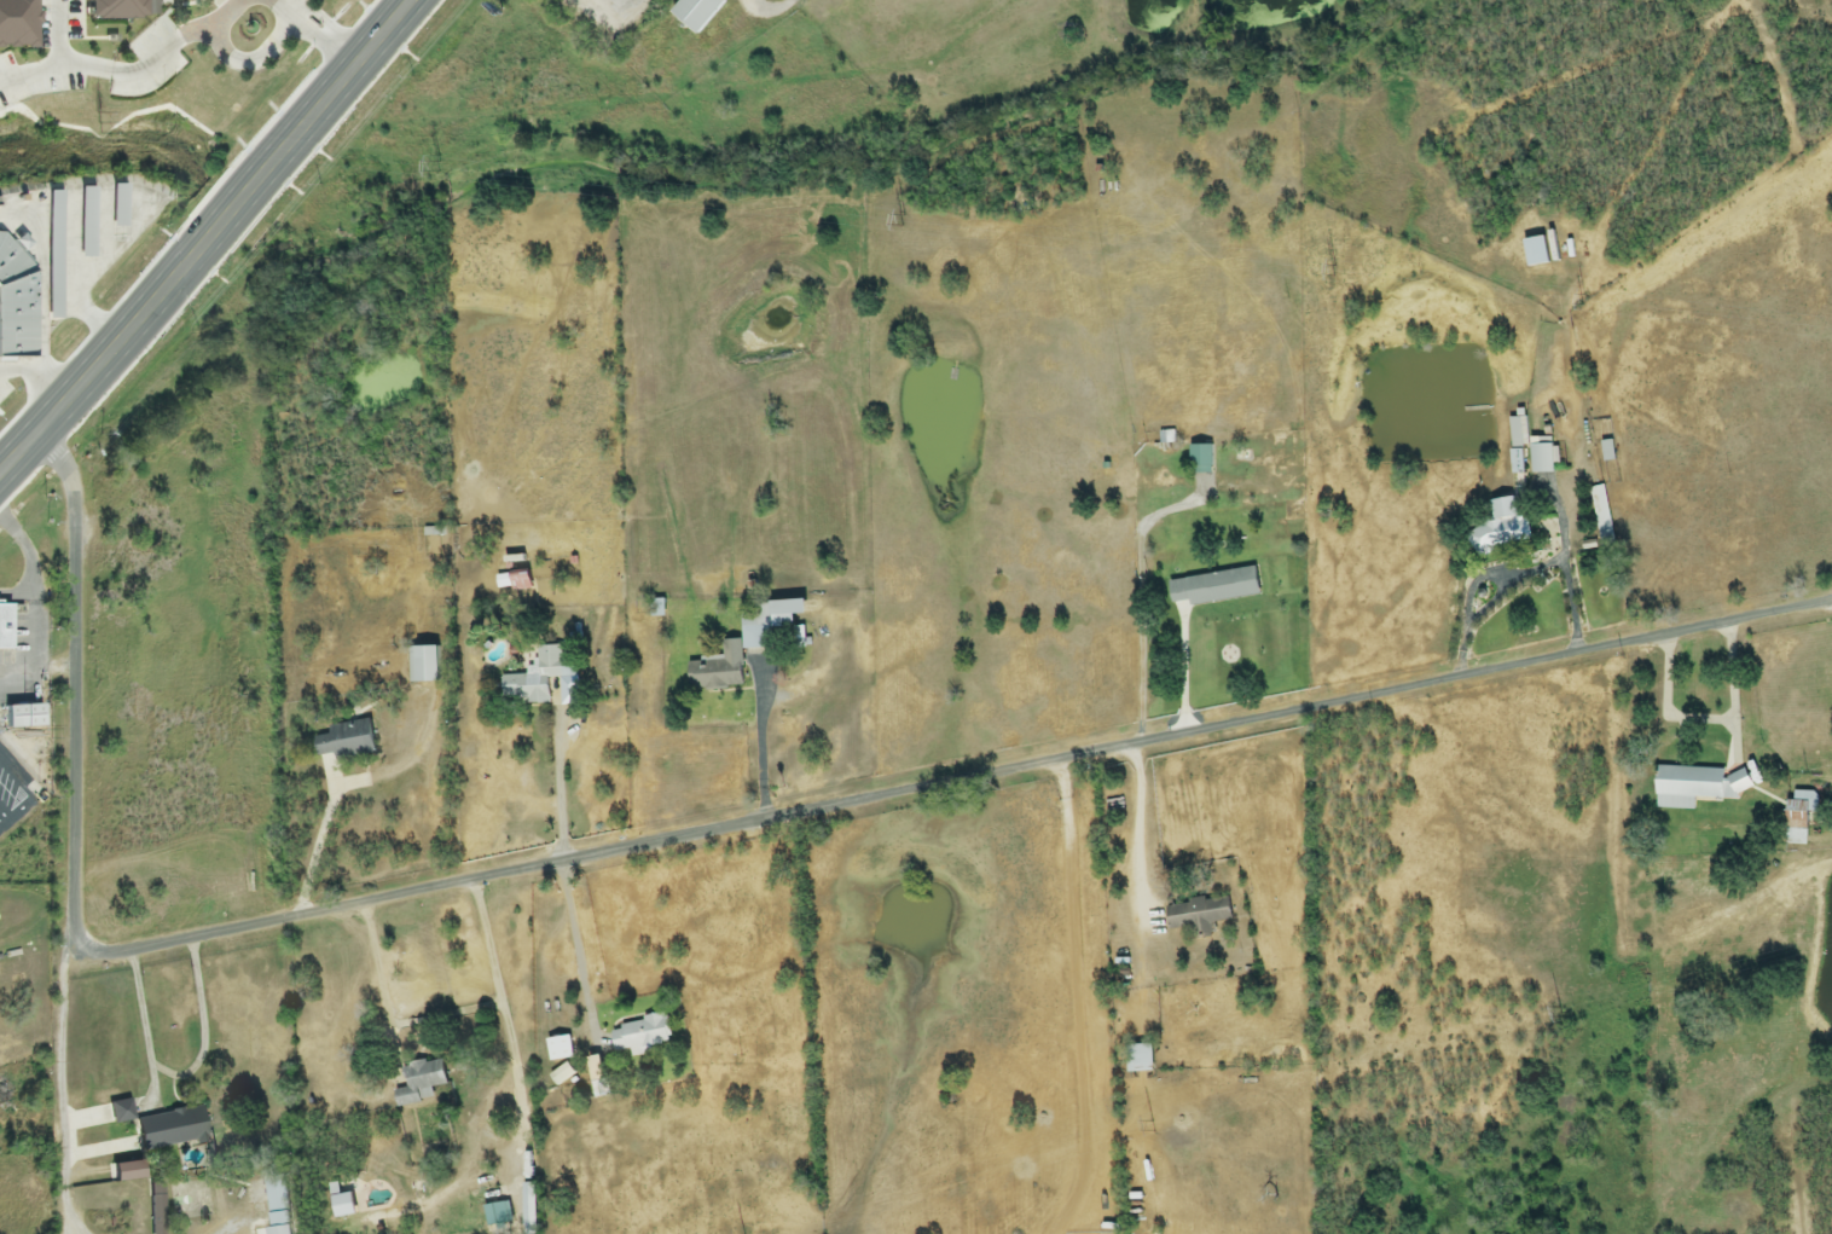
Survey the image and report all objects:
road: (773, 12)
building: (694, 13)
road: (610, 19)
road: (314, 29)
road: (164, 62)
road: (256, 65)
road: (64, 68)
power tower: (98, 123)
power tower: (440, 166)
power tower: (905, 221)
road: (207, 238)
building: (1535, 251)
power tower: (1337, 272)
power tower: (1584, 300)
road: (36, 375)
building: (1606, 451)
building: (1541, 457)
building: (1200, 460)
building: (1601, 515)
building: (1501, 521)
building: (1212, 589)
road: (1142, 592)
building: (770, 624)
building: (7, 628)
building: (427, 666)
road: (1185, 672)
building: (17, 716)
road: (1710, 722)
road: (763, 742)
building: (1698, 786)
road: (562, 793)
building: (1799, 817)
road: (1143, 830)
road: (698, 832)
road: (313, 850)
building: (1198, 915)
road: (573, 955)
power tower: (1560, 1013)
road: (450, 1016)
building: (642, 1033)
building: (561, 1049)
building: (1138, 1059)
road: (181, 1073)
road: (521, 1081)
road: (64, 1085)
power tower: (1154, 1126)
road: (521, 1194)
road: (233, 1232)

